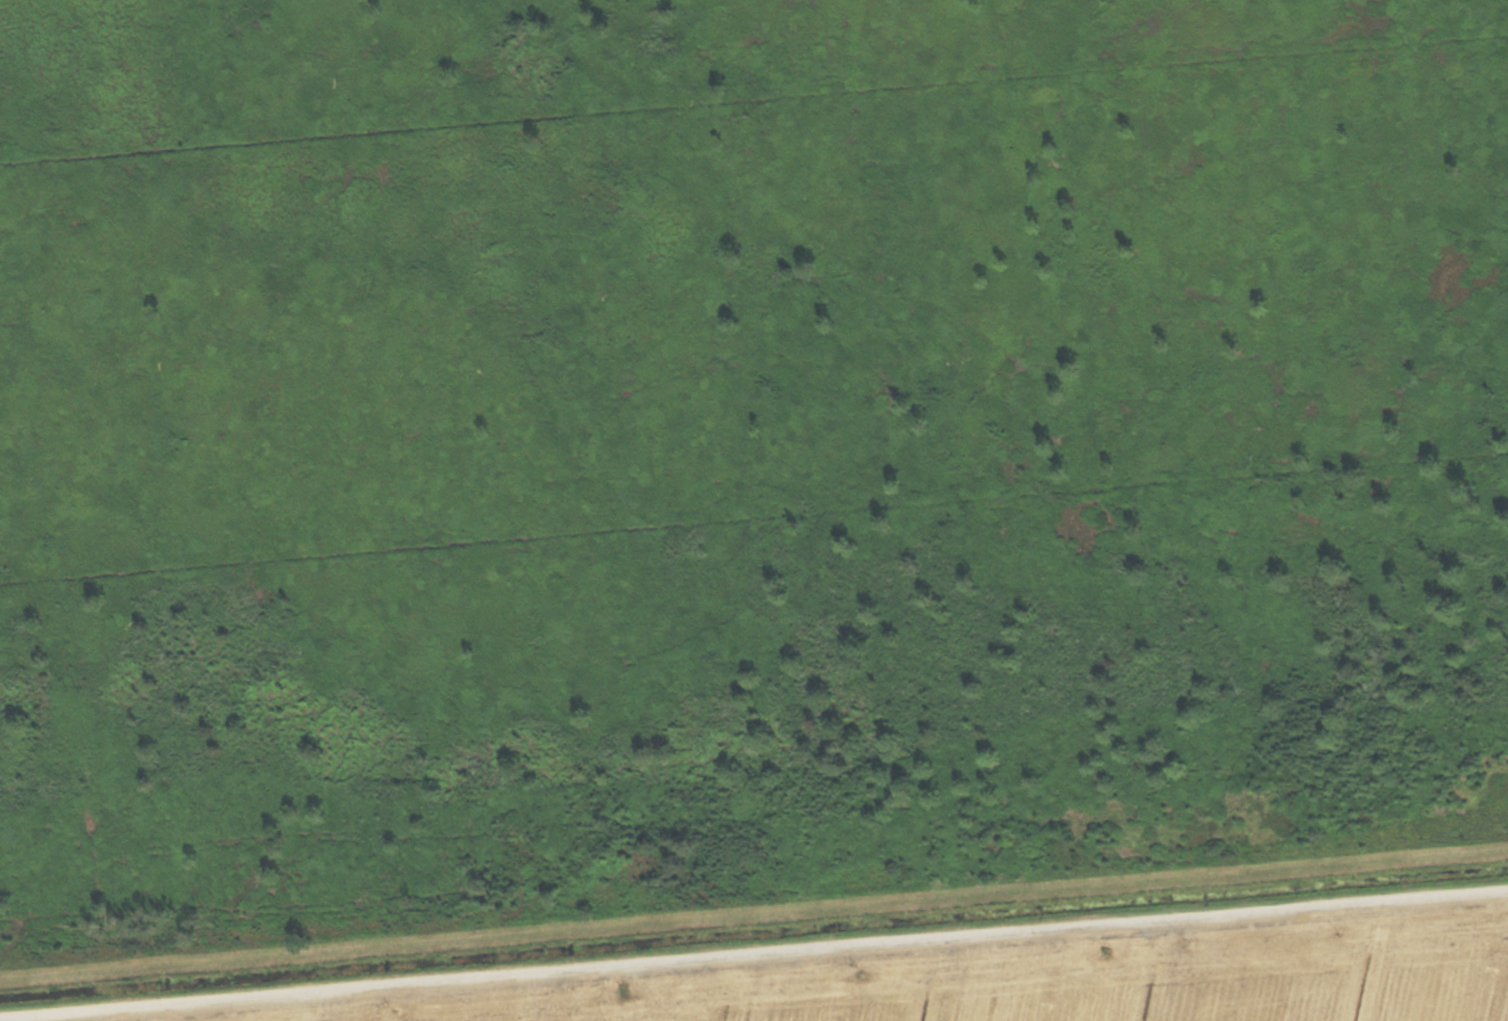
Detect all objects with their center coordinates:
road: (753, 915)
road: (754, 952)

